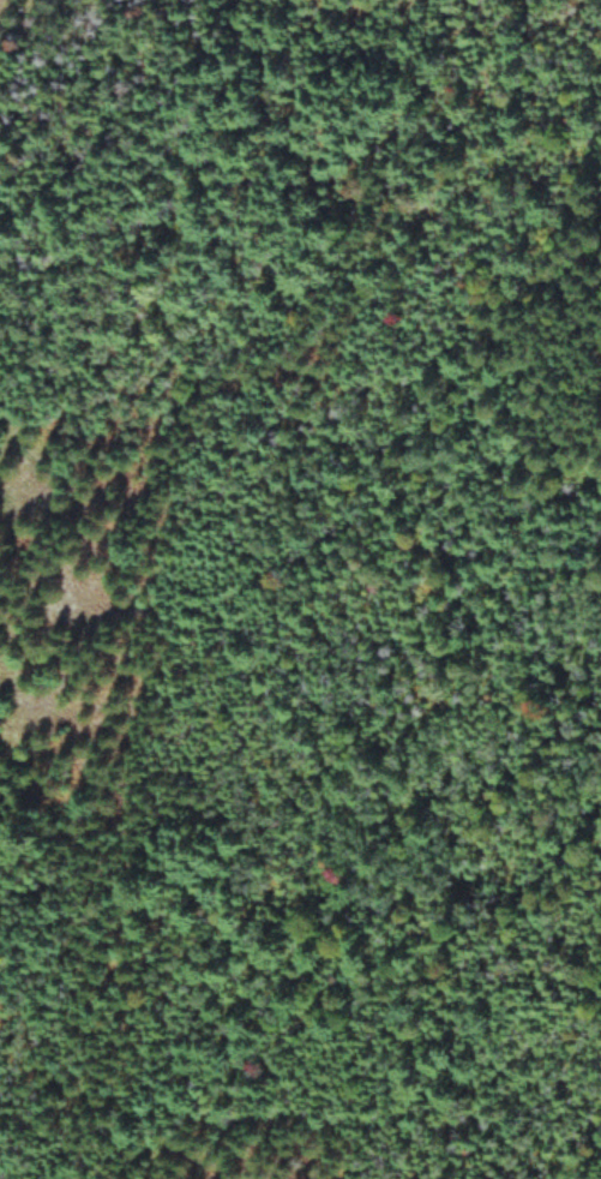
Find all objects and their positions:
park: (300, 589)

